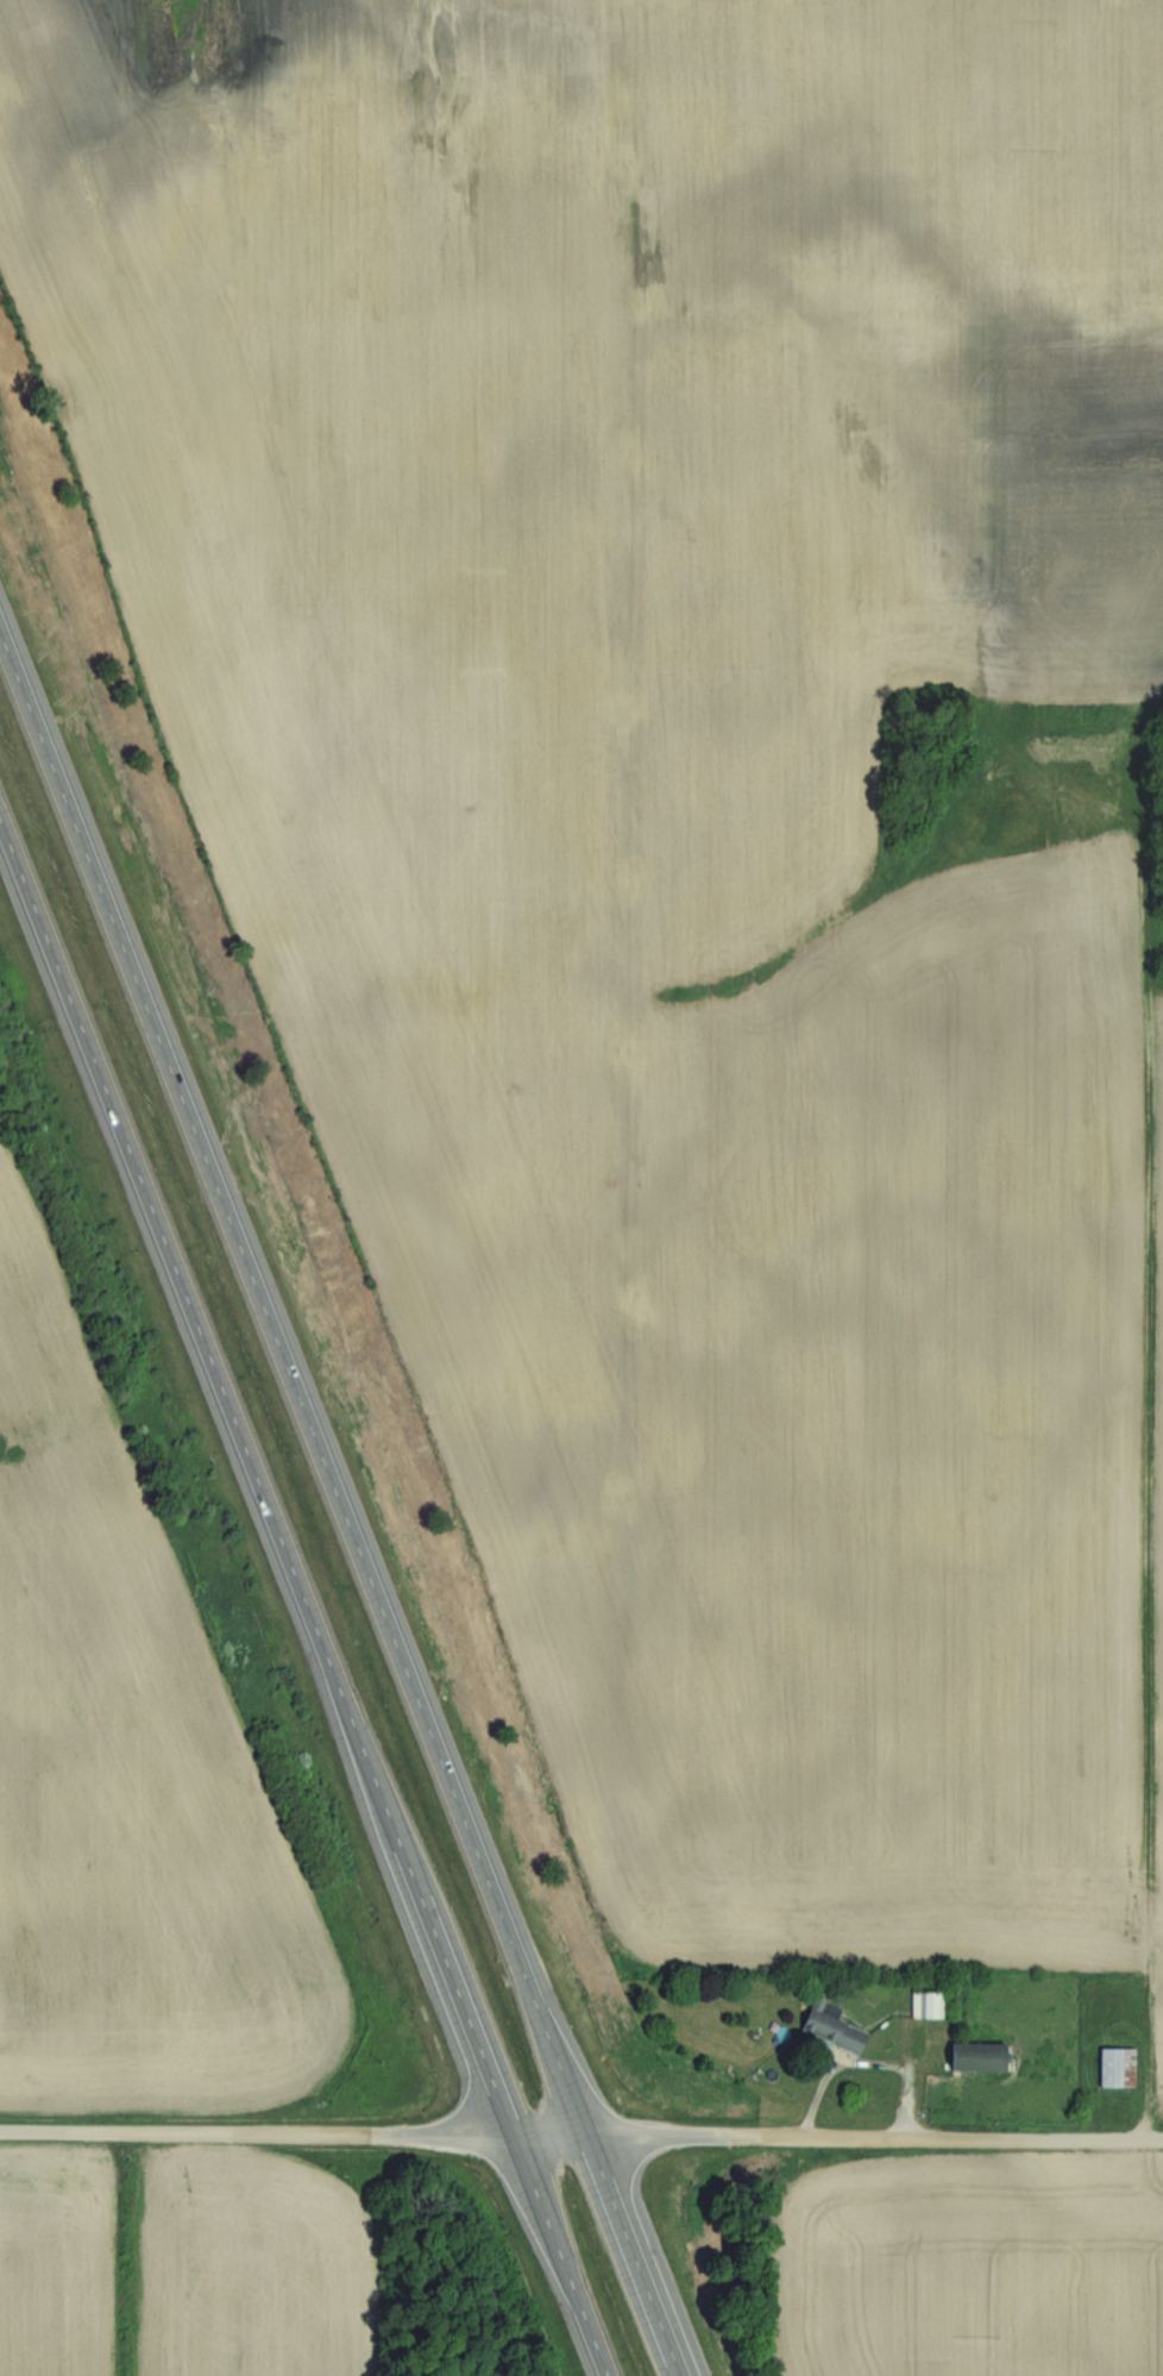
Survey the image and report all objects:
road: (341, 1503)
road: (303, 1596)
building: (926, 2004)
building: (830, 2029)
building: (976, 2056)
road: (870, 2063)
building: (1118, 2067)
road: (581, 2137)

